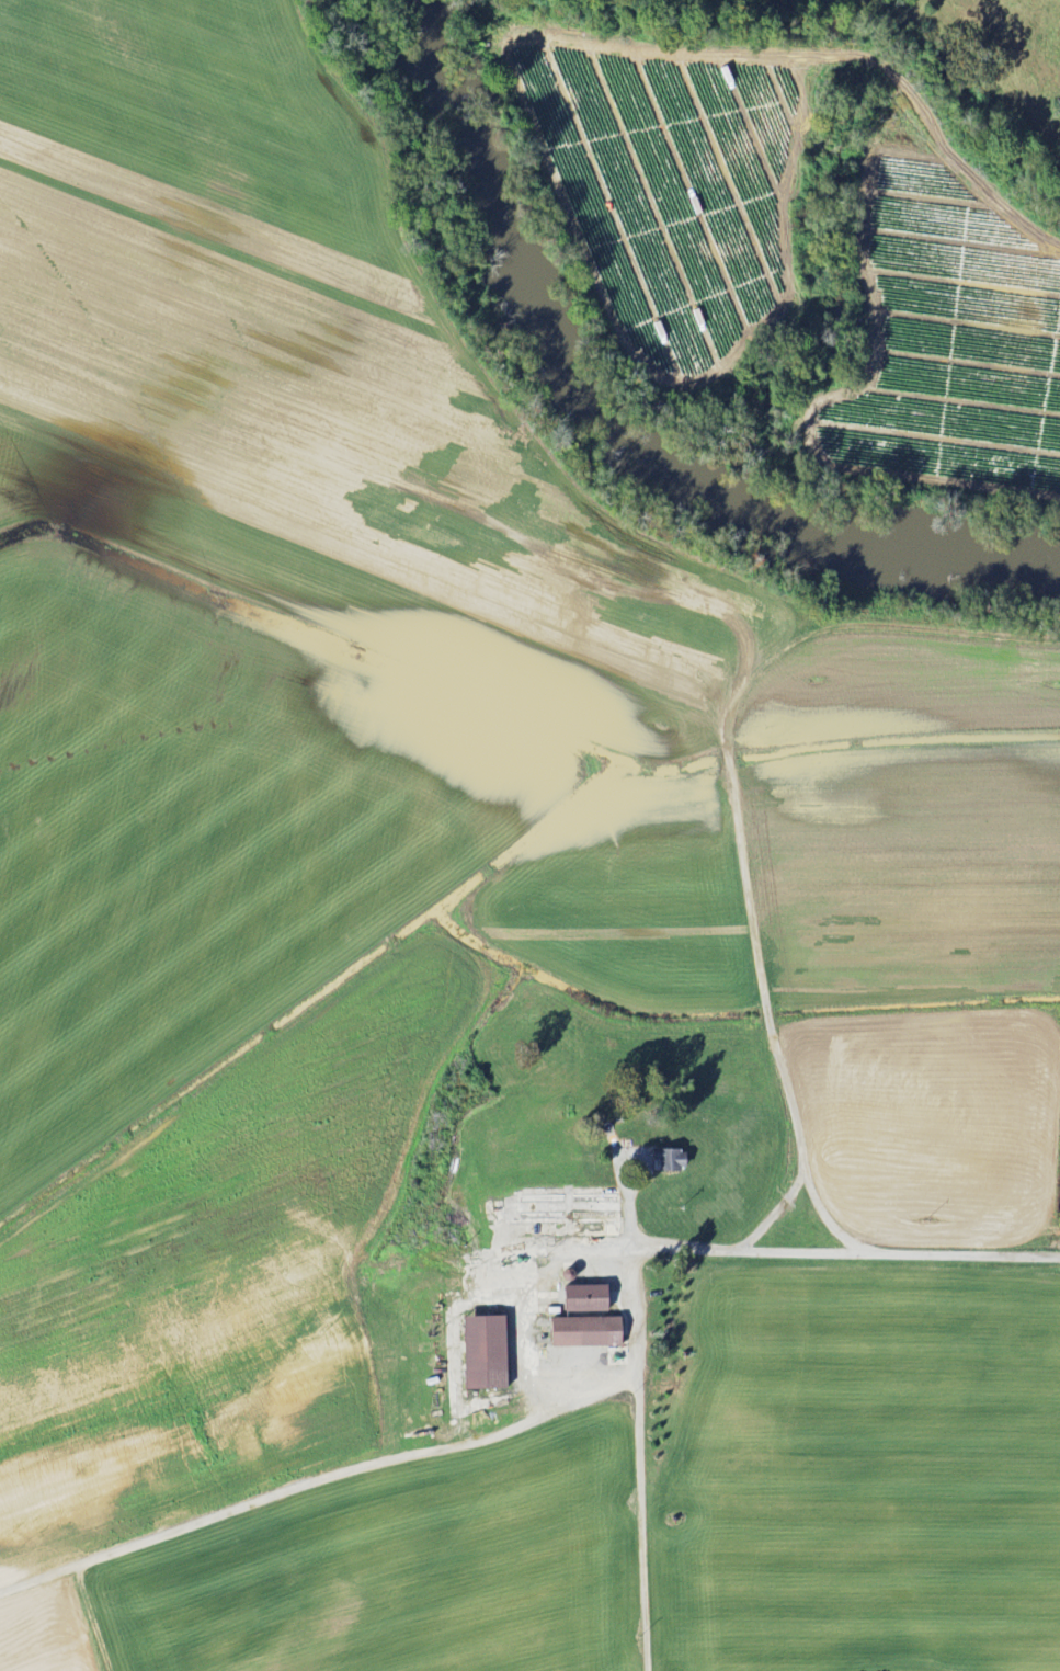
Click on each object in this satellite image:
river: (521, 273)
river: (877, 539)
building: (666, 1159)
road: (639, 1252)
building: (582, 1298)
building: (581, 1332)
building: (479, 1353)

